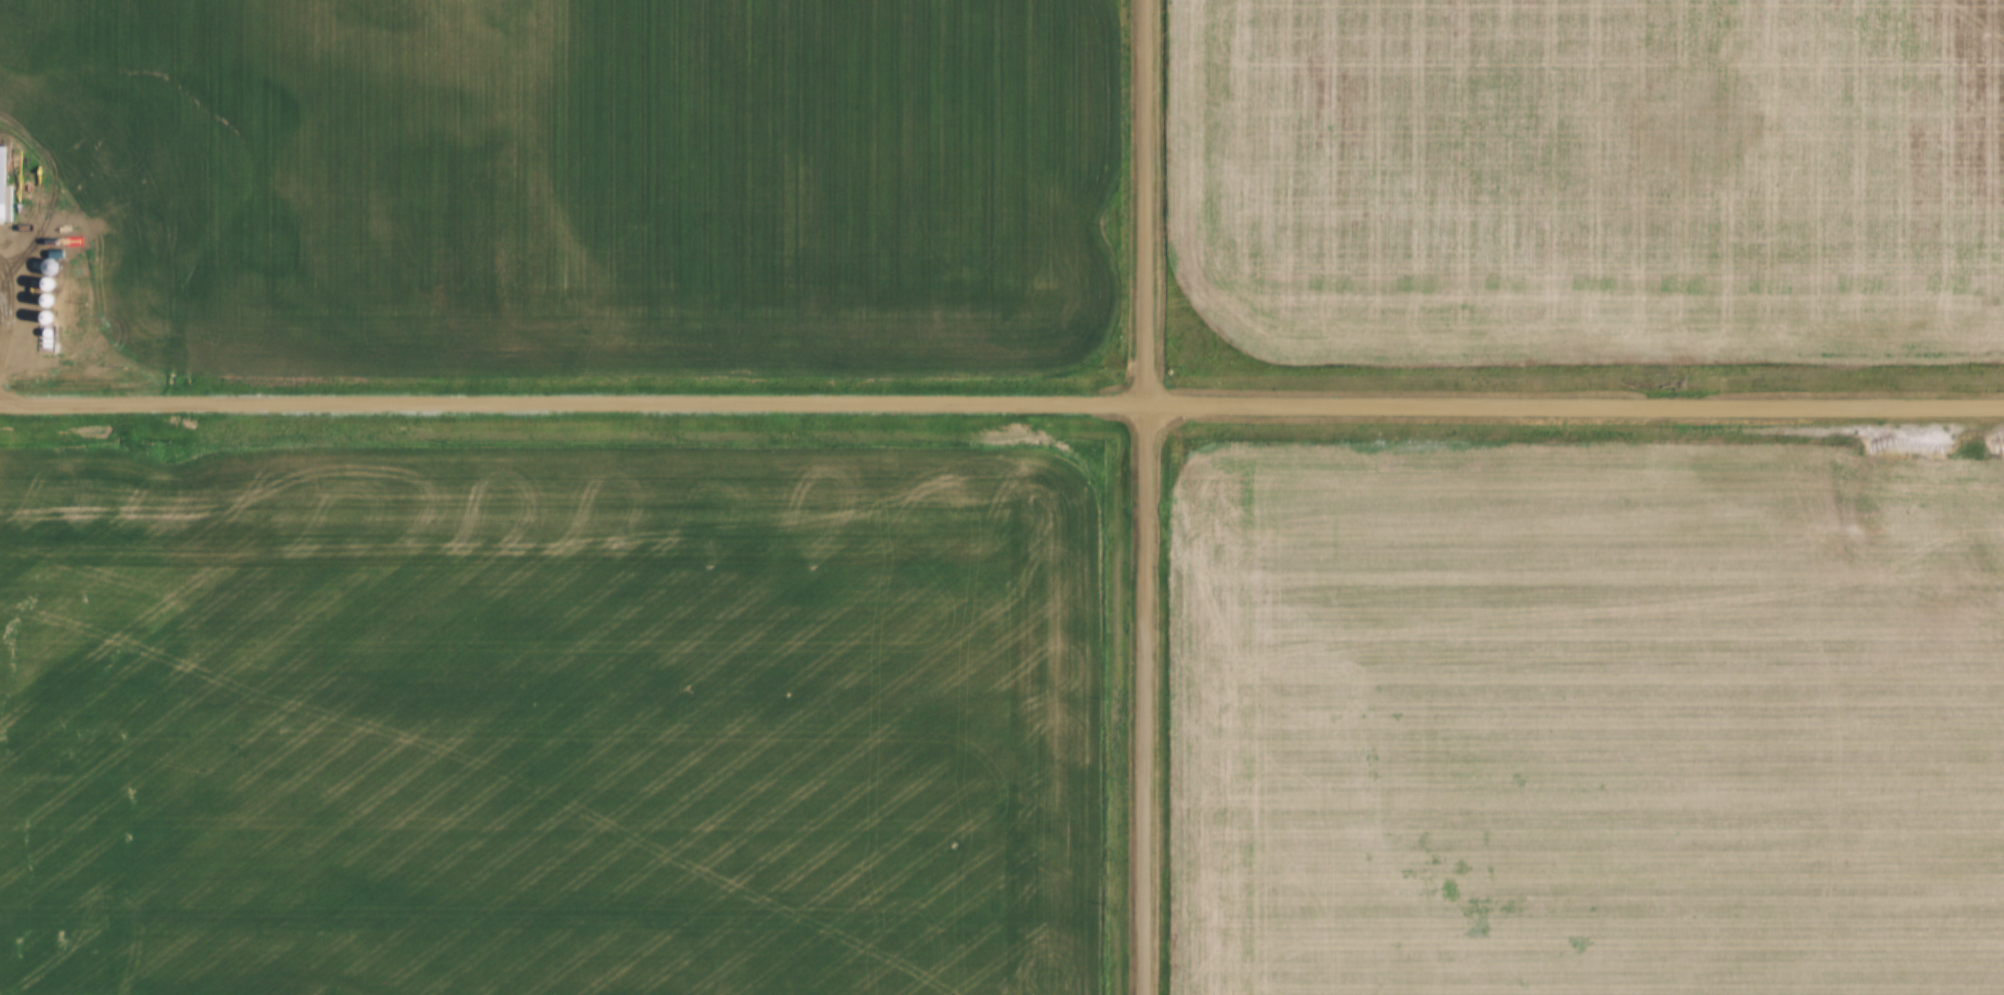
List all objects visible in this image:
building: (1, 187)
road: (1150, 205)
building: (43, 287)
building: (40, 321)
road: (1001, 413)
road: (1145, 702)

